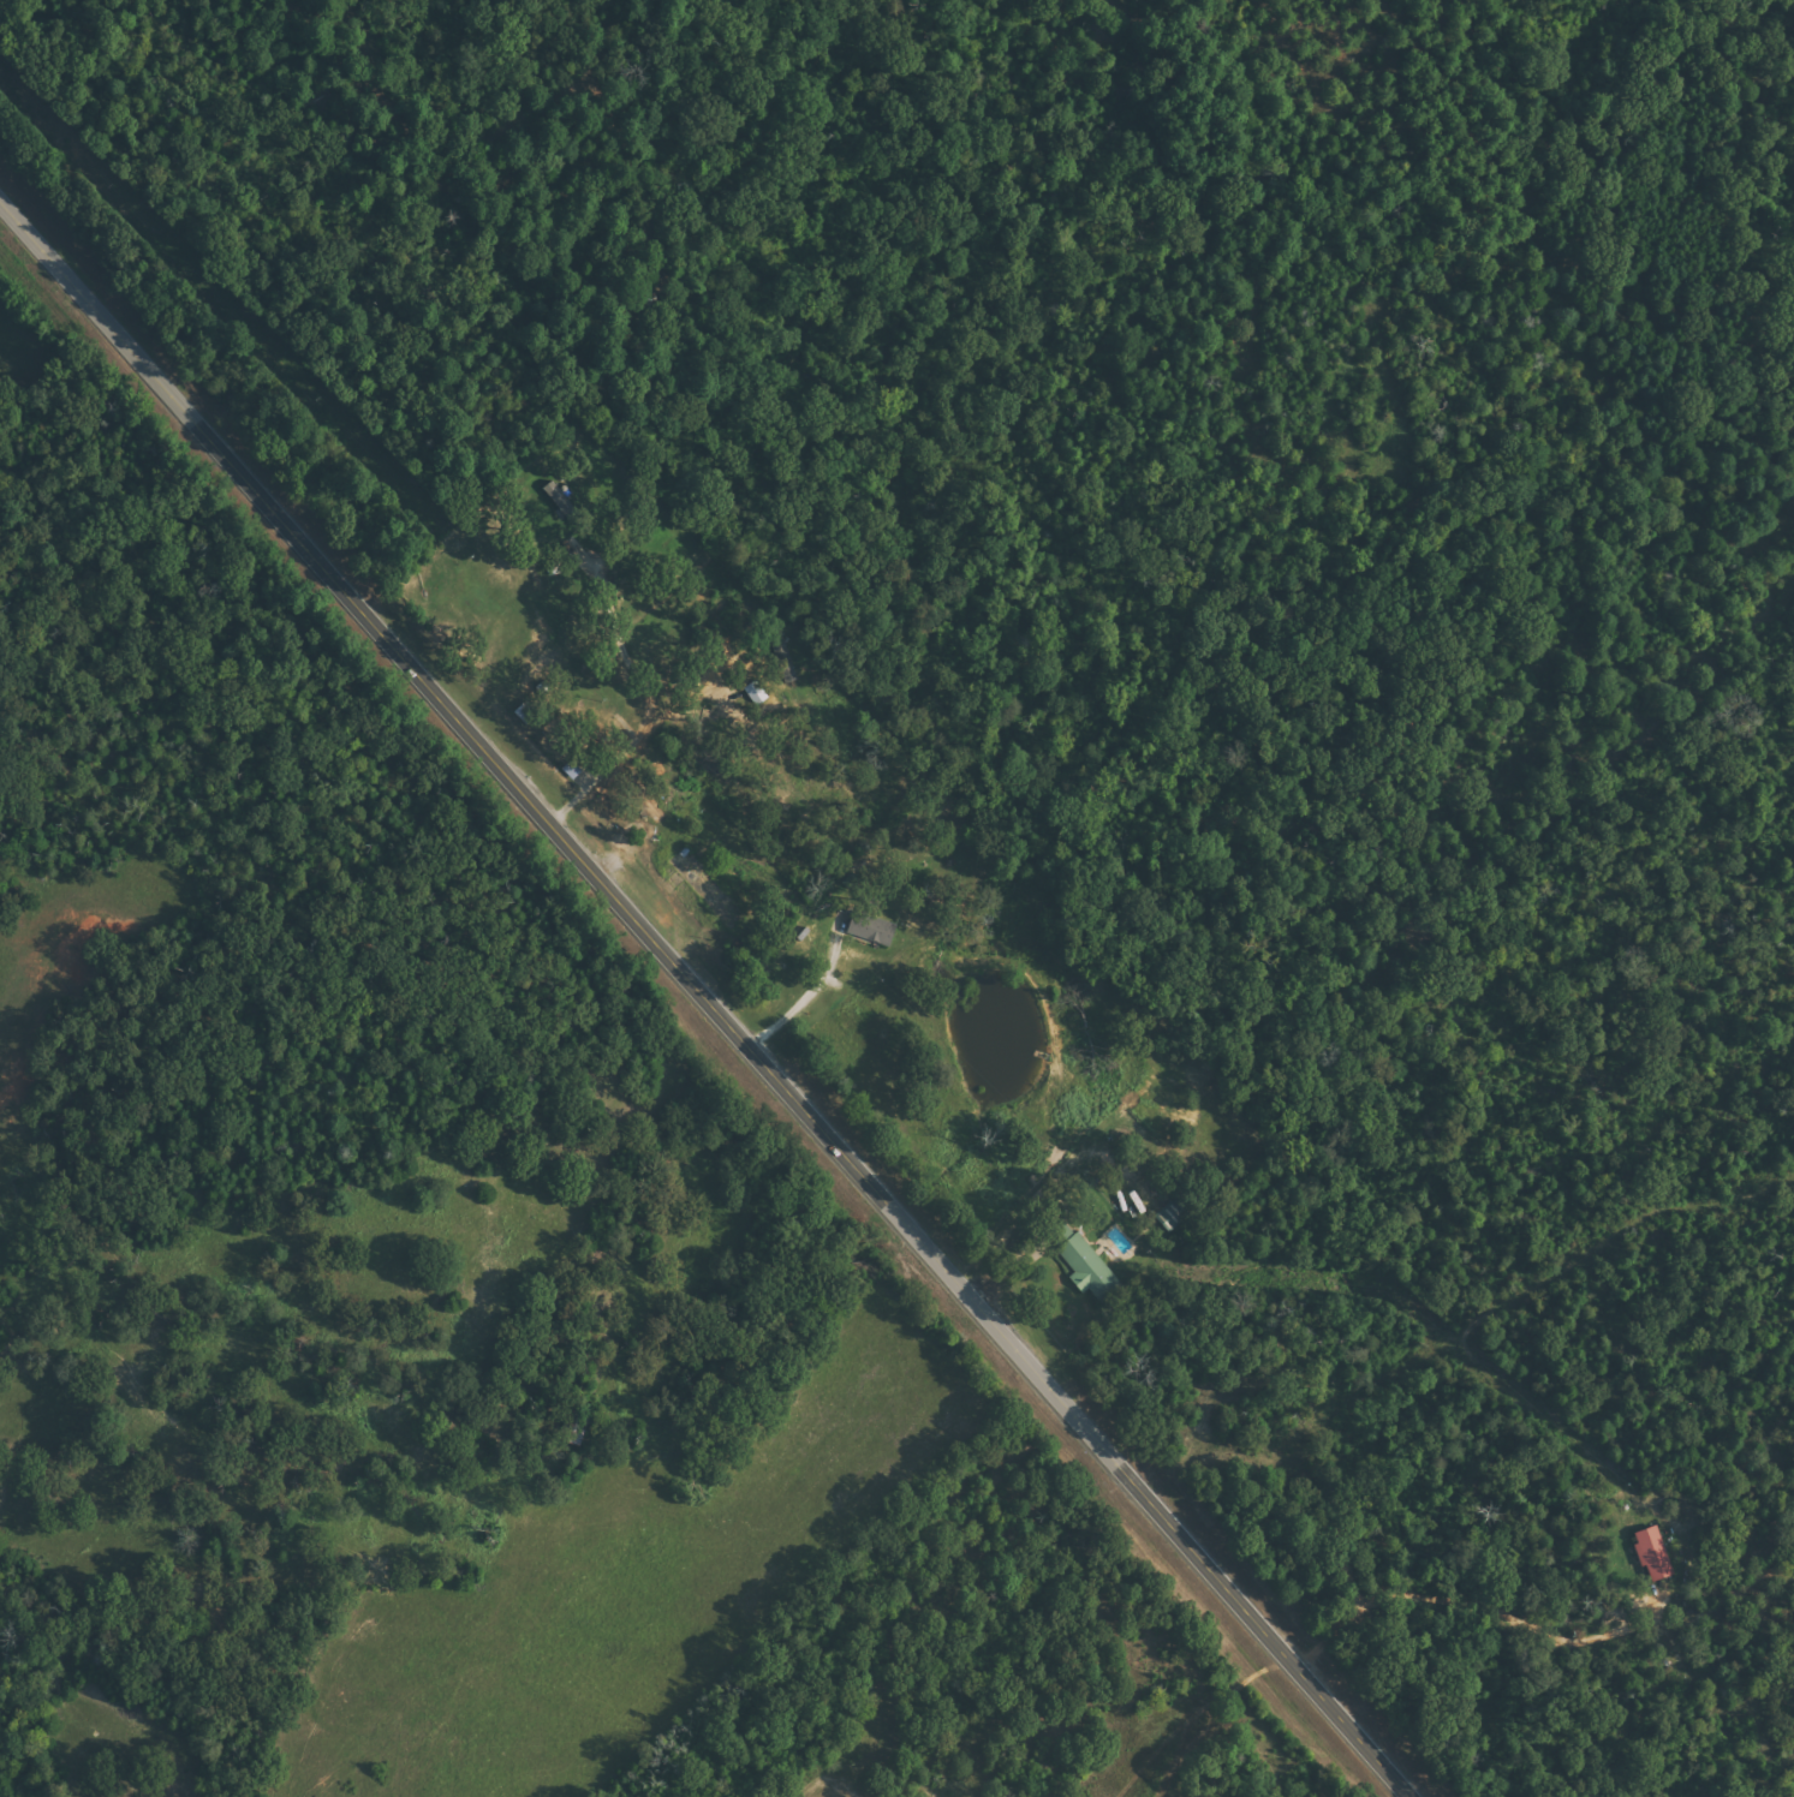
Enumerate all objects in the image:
building: (529, 712)
building: (876, 929)
road: (704, 1001)
building: (1079, 1261)
road: (1214, 1300)
building: (1650, 1553)

